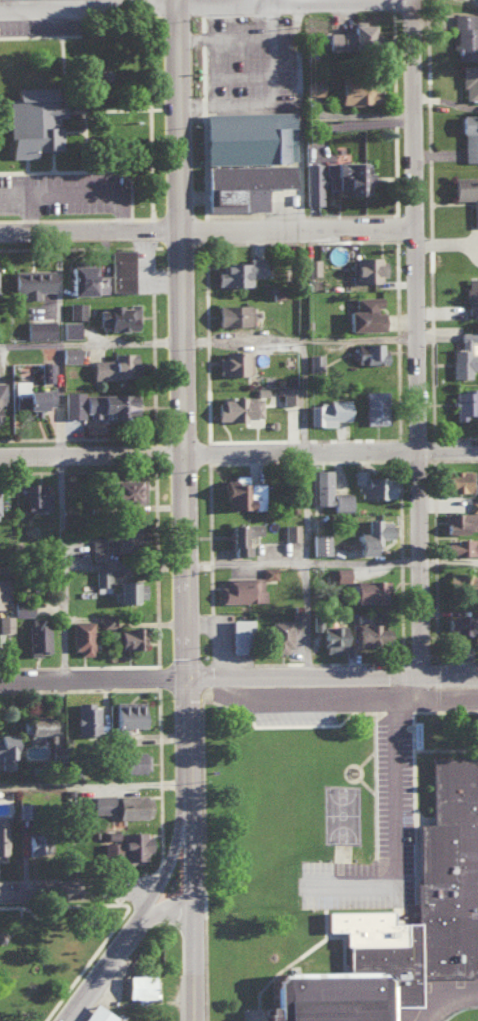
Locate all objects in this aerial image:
road: (420, 1)
road: (250, 2)
road: (298, 5)
road: (87, 8)
building: (465, 34)
building: (351, 35)
road: (223, 36)
building: (469, 80)
building: (313, 86)
building: (358, 89)
road: (267, 97)
building: (32, 120)
building: (246, 136)
building: (469, 136)
building: (345, 175)
building: (312, 182)
building: (241, 184)
road: (81, 192)
building: (467, 192)
road: (29, 214)
road: (303, 232)
road: (89, 234)
building: (310, 265)
building: (367, 268)
building: (238, 270)
building: (116, 272)
building: (78, 277)
building: (30, 281)
road: (178, 281)
building: (471, 294)
building: (75, 309)
building: (233, 313)
building: (363, 313)
building: (116, 315)
building: (38, 327)
building: (69, 328)
road: (313, 342)
road: (427, 342)
road: (213, 344)
building: (369, 352)
building: (69, 353)
building: (463, 355)
building: (232, 361)
building: (314, 361)
building: (114, 365)
building: (45, 370)
building: (2, 392)
building: (289, 394)
building: (30, 396)
building: (464, 401)
building: (100, 403)
building: (237, 406)
building: (375, 406)
building: (327, 411)
road: (90, 454)
road: (329, 455)
road: (59, 458)
building: (453, 479)
building: (372, 484)
building: (319, 485)
building: (124, 489)
building: (241, 491)
building: (35, 495)
building: (339, 501)
building: (474, 505)
building: (458, 521)
building: (290, 531)
building: (371, 534)
building: (240, 536)
building: (116, 537)
building: (319, 543)
building: (461, 546)
building: (97, 554)
road: (90, 564)
road: (454, 565)
road: (305, 567)
building: (268, 571)
building: (340, 573)
building: (101, 579)
building: (464, 582)
building: (3, 588)
building: (240, 588)
building: (128, 590)
building: (370, 590)
building: (21, 606)
building: (295, 617)
building: (106, 619)
road: (184, 621)
building: (5, 622)
building: (459, 623)
building: (370, 633)
building: (239, 634)
building: (80, 635)
building: (278, 635)
building: (36, 636)
building: (128, 636)
building: (332, 636)
road: (92, 680)
traffic signals: (186, 680)
road: (309, 680)
road: (455, 681)
road: (408, 705)
building: (85, 715)
building: (125, 718)
building: (36, 724)
road: (186, 742)
building: (6, 750)
building: (132, 761)
road: (93, 784)
building: (102, 803)
building: (132, 805)
park: (353, 817)
road: (407, 821)
building: (0, 839)
building: (35, 843)
building: (134, 845)
building: (111, 852)
road: (190, 853)
road: (166, 865)
road: (377, 876)
road: (77, 891)
park: (323, 893)
road: (161, 906)
road: (377, 916)
building: (401, 918)
park: (53, 957)
road: (192, 961)
road: (99, 972)
building: (138, 987)
road: (454, 1003)
building: (97, 1014)

